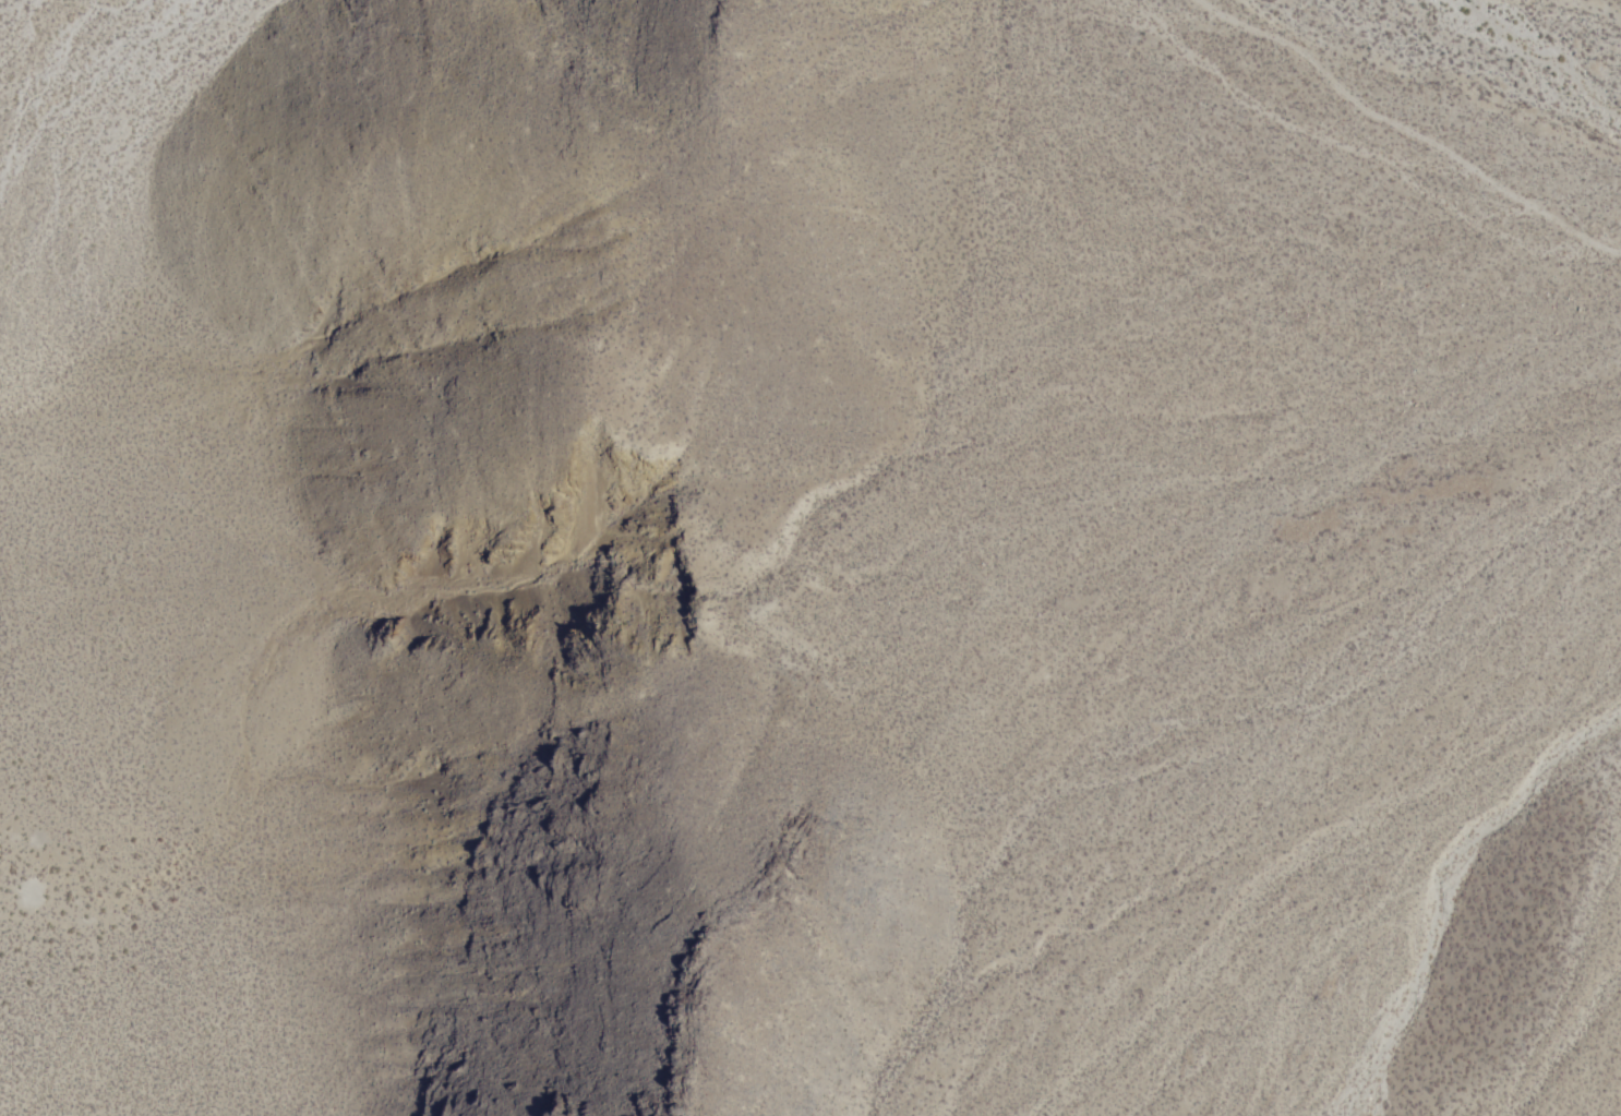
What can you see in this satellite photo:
road: (1405, 132)

